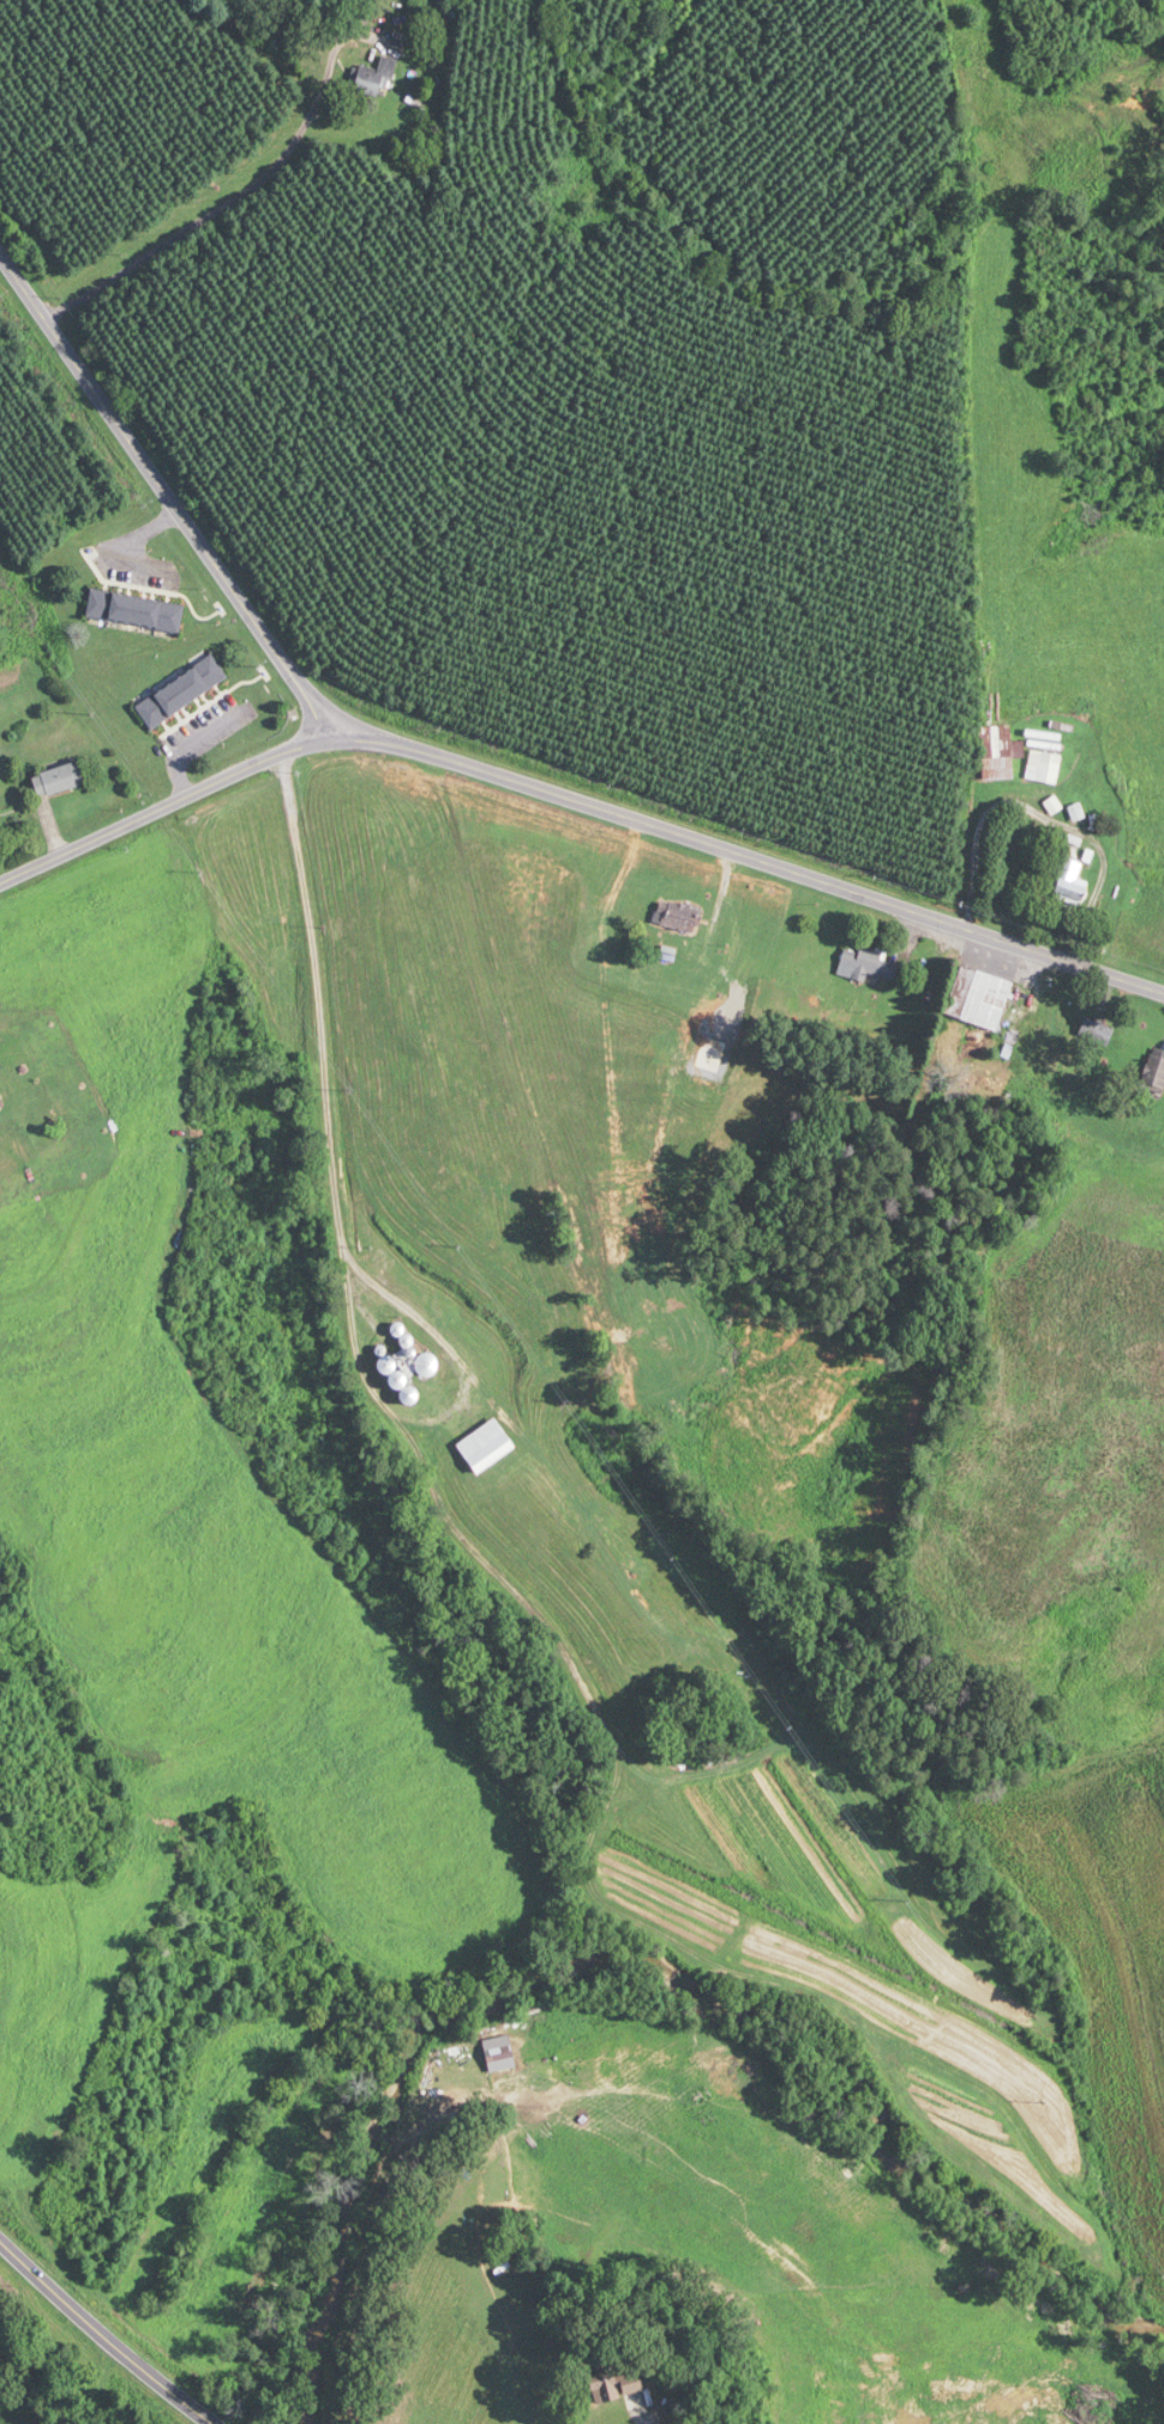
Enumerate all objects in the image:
building: (376, 77)
road: (245, 193)
road: (166, 495)
building: (136, 610)
building: (181, 692)
building: (998, 753)
building: (1043, 766)
building: (59, 778)
road: (164, 806)
road: (749, 856)
building: (1070, 884)
building: (677, 915)
building: (868, 964)
building: (978, 998)
building: (1096, 1031)
building: (1154, 1072)
building: (1, 1106)
road: (328, 1238)
building: (424, 1364)
building: (485, 1446)
road: (101, 2335)
building: (605, 2388)
road: (640, 2411)

